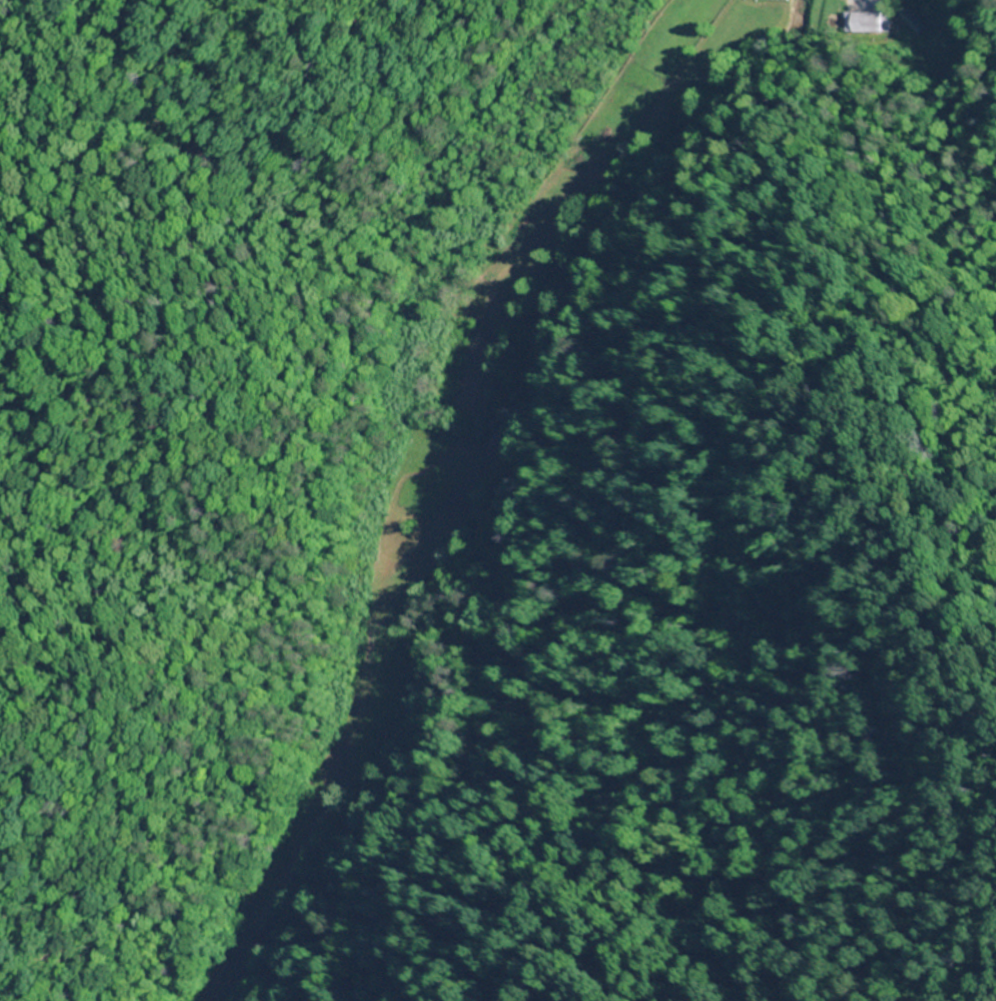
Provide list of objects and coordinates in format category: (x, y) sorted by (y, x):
building: (854, 22)

